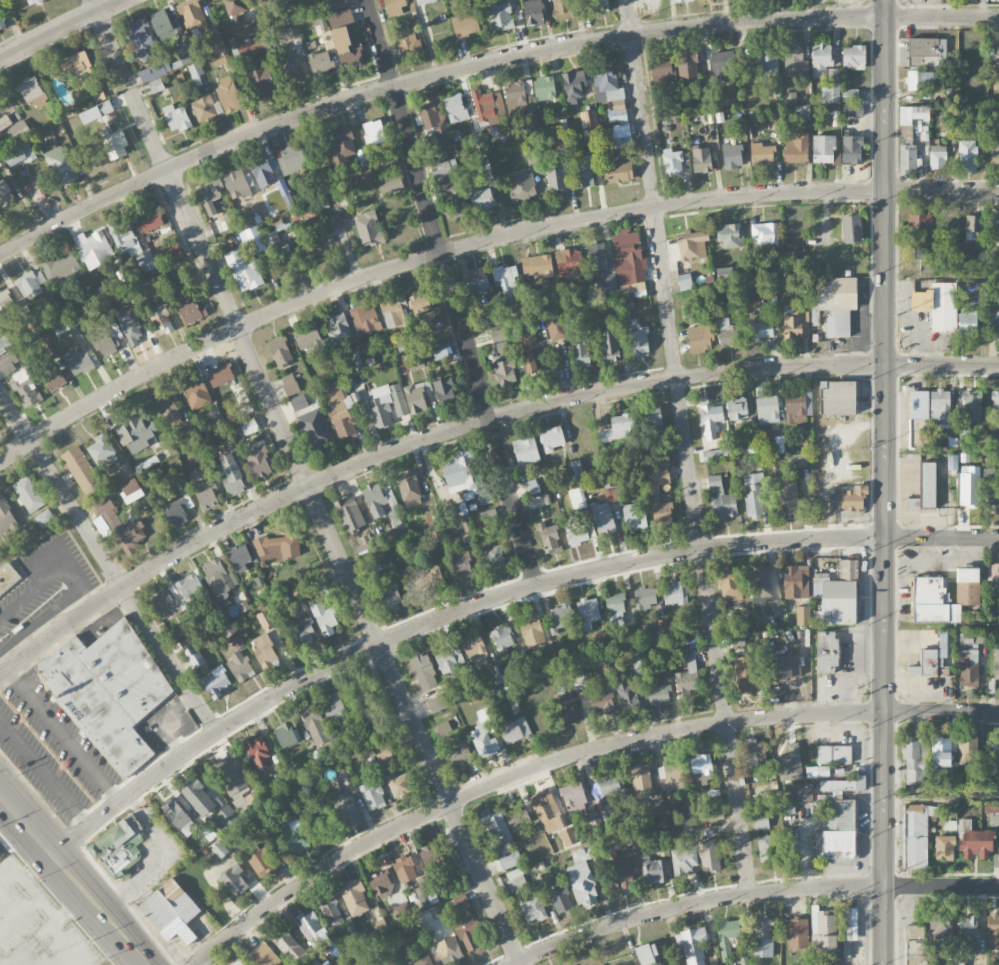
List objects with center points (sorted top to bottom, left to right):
building: (34, 1)
building: (266, 1)
building: (425, 1)
building: (682, 1)
building: (335, 4)
building: (395, 6)
building: (597, 6)
road: (846, 7)
building: (235, 9)
building: (561, 9)
road: (921, 9)
building: (533, 12)
building: (192, 15)
building: (500, 16)
building: (2, 19)
building: (342, 20)
building: (465, 24)
building: (164, 25)
road: (61, 29)
building: (292, 33)
building: (141, 38)
building: (251, 39)
building: (408, 42)
building: (216, 44)
building: (311, 47)
building: (347, 50)
building: (926, 51)
building: (187, 56)
building: (853, 57)
building: (998, 57)
building: (768, 59)
building: (821, 59)
building: (221, 60)
building: (794, 60)
building: (320, 62)
road: (481, 62)
building: (72, 65)
building: (687, 68)
building: (721, 69)
building: (195, 70)
building: (291, 70)
building: (662, 70)
building: (154, 72)
building: (832, 75)
building: (919, 79)
building: (261, 84)
building: (156, 85)
building: (573, 86)
building: (544, 88)
building: (32, 92)
building: (830, 93)
building: (228, 94)
building: (850, 95)
building: (97, 96)
building: (611, 96)
building: (520, 99)
power tower: (897, 99)
road: (942, 104)
building: (455, 108)
building: (206, 109)
building: (852, 110)
building: (96, 112)
building: (802, 113)
building: (176, 118)
building: (775, 118)
building: (588, 119)
building: (4, 120)
building: (911, 121)
building: (433, 127)
building: (374, 131)
building: (505, 138)
building: (113, 143)
building: (343, 144)
building: (994, 148)
building: (796, 149)
building: (824, 149)
building: (852, 150)
building: (762, 154)
building: (19, 155)
building: (532, 155)
building: (966, 155)
building: (732, 156)
building: (937, 157)
building: (362, 158)
building: (907, 158)
building: (291, 160)
building: (702, 160)
building: (672, 163)
building: (62, 165)
building: (443, 167)
building: (583, 171)
building: (619, 172)
building: (263, 174)
building: (556, 176)
building: (363, 177)
building: (237, 184)
building: (390, 185)
building: (521, 185)
building: (284, 193)
building: (210, 196)
building: (482, 199)
building: (455, 201)
building: (149, 220)
building: (973, 227)
building: (368, 229)
building: (851, 229)
building: (919, 230)
building: (993, 230)
building: (765, 234)
building: (124, 236)
building: (730, 236)
building: (259, 240)
road: (477, 244)
building: (692, 247)
building: (93, 249)
building: (173, 251)
building: (919, 253)
building: (145, 261)
building: (629, 263)
building: (568, 264)
building: (537, 267)
building: (601, 267)
building: (62, 269)
building: (243, 270)
building: (183, 271)
building: (724, 273)
building: (474, 280)
building: (507, 280)
building: (684, 282)
building: (30, 284)
building: (159, 286)
road: (451, 292)
building: (4, 296)
building: (419, 303)
building: (837, 303)
building: (937, 305)
building: (190, 309)
building: (393, 314)
power tower: (896, 315)
building: (365, 319)
building: (160, 322)
building: (967, 323)
building: (995, 323)
building: (796, 324)
building: (63, 326)
building: (556, 327)
building: (338, 328)
building: (760, 331)
building: (132, 332)
building: (726, 332)
building: (700, 339)
building: (309, 340)
building: (639, 341)
building: (105, 342)
building: (500, 342)
building: (610, 346)
building: (581, 350)
building: (49, 352)
building: (280, 352)
building: (442, 353)
building: (529, 353)
building: (414, 361)
building: (78, 362)
building: (7, 366)
building: (505, 373)
building: (220, 375)
building: (54, 380)
building: (289, 385)
building: (24, 388)
building: (443, 390)
building: (197, 394)
building: (415, 398)
building: (837, 398)
building: (299, 405)
building: (387, 405)
building: (919, 406)
building: (971, 406)
building: (797, 407)
building: (939, 407)
building: (995, 407)
building: (340, 408)
building: (168, 409)
building: (736, 409)
building: (767, 409)
building: (652, 420)
building: (710, 421)
road: (469, 425)
building: (249, 426)
building: (618, 428)
building: (316, 430)
building: (135, 431)
building: (963, 437)
building: (552, 439)
building: (916, 439)
road: (686, 447)
building: (526, 451)
building: (102, 452)
road: (942, 452)
building: (715, 455)
building: (799, 460)
building: (952, 461)
building: (259, 462)
building: (576, 470)
building: (81, 471)
building: (460, 473)
building: (232, 476)
road: (306, 482)
road: (886, 482)
building: (927, 485)
building: (969, 486)
building: (532, 487)
building: (409, 488)
building: (991, 490)
building: (131, 491)
building: (28, 494)
building: (204, 494)
building: (754, 495)
building: (786, 496)
building: (577, 498)
building: (659, 498)
building: (721, 498)
building: (853, 498)
building: (912, 504)
building: (375, 508)
building: (177, 510)
building: (349, 515)
building: (488, 516)
building: (635, 516)
building: (6, 517)
building: (45, 518)
building: (430, 518)
building: (603, 518)
building: (120, 527)
building: (576, 532)
building: (436, 535)
building: (549, 539)
building: (277, 548)
power tower: (896, 550)
building: (239, 558)
building: (494, 558)
road: (107, 564)
building: (462, 565)
building: (846, 569)
building: (995, 572)
road: (50, 575)
building: (219, 577)
building: (428, 577)
building: (8, 580)
building: (796, 582)
building: (761, 583)
building: (730, 585)
building: (967, 586)
building: (187, 590)
building: (676, 593)
building: (388, 595)
building: (645, 597)
road: (491, 599)
building: (836, 600)
building: (933, 601)
building: (301, 602)
building: (165, 605)
building: (615, 610)
building: (588, 612)
building: (803, 615)
building: (560, 618)
building: (325, 619)
building: (266, 620)
building: (683, 625)
building: (662, 626)
road: (942, 626)
building: (532, 630)
building: (226, 631)
building: (300, 632)
building: (503, 638)
building: (738, 641)
building: (473, 646)
building: (264, 651)
building: (826, 652)
building: (194, 656)
building: (969, 656)
building: (931, 659)
building: (449, 662)
building: (996, 665)
building: (239, 667)
building: (784, 668)
building: (424, 672)
building: (686, 674)
building: (745, 675)
building: (216, 682)
building: (109, 693)
building: (626, 695)
building: (659, 695)
building: (367, 702)
building: (600, 703)
building: (437, 704)
building: (335, 709)
building: (566, 709)
power tower: (896, 723)
building: (315, 726)
building: (443, 728)
building: (515, 730)
building: (285, 735)
road: (63, 736)
building: (483, 741)
building: (967, 750)
building: (256, 751)
building: (940, 751)
building: (995, 752)
building: (752, 753)
building: (460, 755)
building: (833, 755)
road: (570, 756)
building: (384, 758)
building: (913, 760)
building: (701, 769)
building: (817, 771)
road: (44, 772)
building: (231, 774)
building: (672, 775)
building: (641, 778)
building: (399, 784)
building: (610, 784)
building: (836, 787)
building: (804, 793)
building: (372, 794)
building: (574, 796)
building: (198, 797)
building: (761, 799)
road: (942, 799)
building: (345, 806)
building: (548, 812)
building: (227, 816)
building: (178, 817)
building: (518, 818)
building: (594, 821)
building: (760, 821)
building: (320, 823)
road: (26, 828)
building: (837, 832)
building: (499, 833)
building: (916, 835)
building: (293, 836)
building: (568, 837)
building: (118, 844)
building: (976, 844)
building: (766, 848)
building: (944, 848)
building: (220, 850)
building: (709, 855)
building: (431, 857)
road: (155, 860)
building: (509, 860)
building: (684, 860)
building: (260, 861)
building: (404, 869)
building: (653, 871)
power tower: (896, 873)
building: (621, 874)
road: (67, 875)
building: (515, 879)
building: (582, 880)
building: (233, 882)
road: (30, 885)
building: (381, 885)
building: (426, 892)
road: (750, 893)
building: (355, 899)
building: (560, 900)
building: (458, 903)
building: (169, 905)
road: (67, 907)
building: (533, 910)
building: (435, 911)
building: (332, 914)
road: (20, 915)
building: (968, 928)
road: (113, 929)
building: (312, 929)
building: (823, 930)
building: (941, 930)
building: (992, 931)
building: (763, 932)
building: (470, 933)
building: (849, 933)
building: (797, 934)
building: (727, 937)
road: (65, 944)
building: (694, 945)
building: (290, 947)
building: (916, 947)
building: (448, 952)
building: (647, 954)
building: (264, 956)
building: (421, 961)
road: (2, 962)
building: (238, 963)
building: (679, 963)
road: (24, 964)

